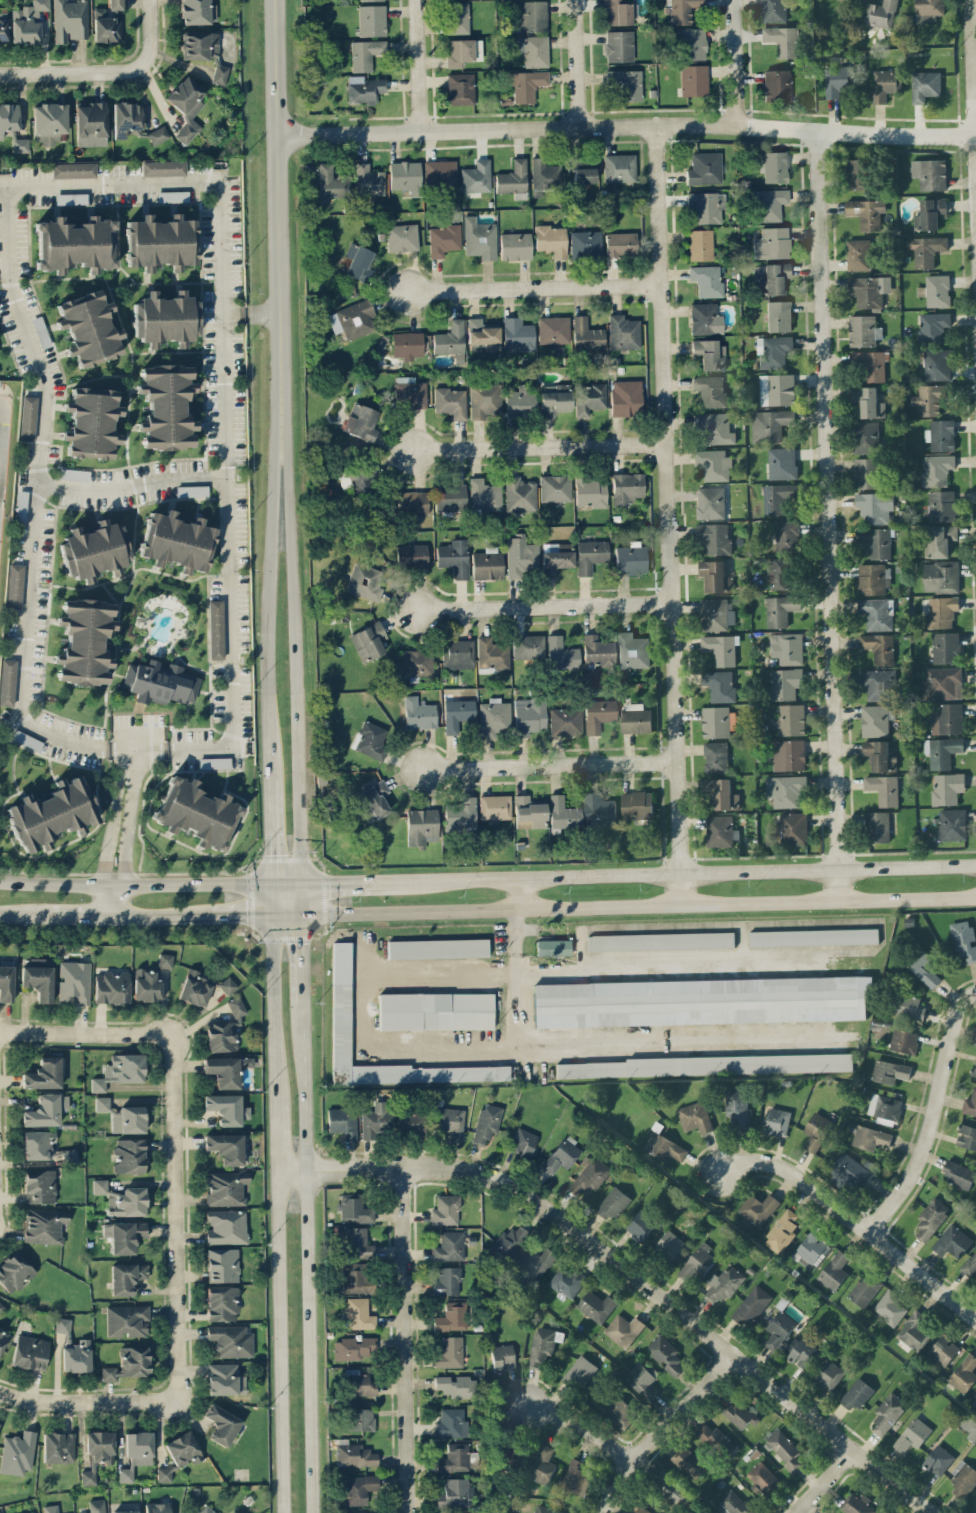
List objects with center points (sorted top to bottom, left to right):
building: (116, 4)
building: (681, 10)
building: (928, 10)
building: (197, 11)
building: (618, 11)
building: (773, 11)
building: (880, 14)
building: (533, 15)
building: (457, 17)
building: (70, 19)
building: (371, 20)
building: (27, 22)
building: (3, 26)
building: (104, 26)
road: (148, 31)
building: (784, 40)
building: (691, 43)
building: (198, 44)
building: (618, 45)
building: (534, 50)
building: (459, 52)
building: (365, 53)
road: (735, 62)
road: (577, 63)
road: (419, 65)
road: (74, 73)
building: (219, 73)
building: (693, 80)
building: (837, 80)
road: (973, 80)
building: (526, 83)
building: (625, 83)
building: (885, 84)
building: (777, 85)
building: (925, 86)
building: (364, 88)
building: (460, 88)
building: (186, 105)
building: (8, 116)
building: (126, 117)
building: (49, 121)
building: (90, 123)
road: (627, 124)
building: (158, 134)
building: (20, 144)
building: (774, 166)
building: (163, 167)
building: (618, 167)
building: (704, 168)
building: (73, 169)
building: (582, 170)
building: (439, 173)
building: (856, 173)
building: (930, 173)
building: (544, 174)
building: (406, 176)
building: (476, 176)
building: (368, 179)
building: (513, 179)
building: (331, 182)
building: (172, 195)
building: (71, 198)
building: (769, 203)
building: (706, 206)
building: (866, 212)
building: (929, 213)
road: (279, 220)
building: (402, 237)
building: (479, 238)
building: (443, 239)
building: (551, 240)
building: (160, 242)
building: (771, 242)
building: (585, 243)
building: (620, 243)
building: (74, 244)
building: (700, 244)
building: (515, 245)
building: (926, 249)
building: (858, 254)
building: (359, 261)
building: (773, 278)
building: (706, 279)
road: (535, 288)
building: (868, 290)
building: (935, 290)
building: (778, 315)
building: (165, 318)
building: (705, 318)
building: (353, 319)
building: (932, 327)
building: (88, 329)
building: (553, 329)
building: (863, 331)
building: (623, 332)
building: (517, 334)
building: (586, 334)
building: (482, 336)
building: (407, 344)
building: (773, 351)
building: (709, 354)
building: (869, 364)
building: (937, 364)
road: (224, 387)
building: (776, 389)
building: (710, 390)
building: (410, 392)
building: (626, 397)
building: (554, 398)
building: (589, 398)
building: (928, 399)
building: (484, 400)
building: (520, 400)
building: (450, 401)
building: (868, 402)
building: (165, 406)
road: (0, 412)
building: (27, 417)
building: (361, 421)
building: (90, 422)
building: (769, 424)
building: (712, 428)
building: (940, 435)
building: (865, 437)
road: (541, 445)
building: (781, 463)
building: (713, 464)
building: (936, 469)
building: (865, 473)
building: (73, 474)
building: (358, 478)
road: (133, 482)
building: (627, 487)
building: (555, 488)
building: (191, 490)
building: (590, 492)
building: (484, 494)
building: (519, 494)
road: (40, 495)
building: (449, 497)
building: (778, 498)
building: (412, 502)
building: (710, 502)
building: (21, 506)
building: (874, 506)
building: (941, 506)
road: (670, 512)
road: (827, 514)
building: (786, 536)
building: (714, 538)
building: (938, 540)
building: (176, 541)
building: (875, 541)
building: (93, 550)
road: (291, 555)
building: (411, 555)
building: (590, 555)
building: (454, 556)
building: (521, 556)
building: (555, 557)
building: (631, 559)
building: (487, 563)
building: (780, 572)
building: (714, 576)
building: (941, 576)
building: (872, 579)
building: (365, 581)
building: (14, 585)
road: (544, 605)
building: (780, 610)
building: (941, 612)
building: (877, 613)
building: (715, 614)
building: (215, 629)
building: (367, 640)
building: (83, 641)
building: (527, 646)
building: (878, 647)
building: (945, 647)
building: (721, 648)
building: (786, 648)
building: (632, 650)
building: (597, 651)
building: (561, 653)
building: (457, 654)
building: (492, 654)
road: (268, 662)
building: (417, 662)
building: (7, 681)
building: (159, 682)
building: (941, 683)
building: (785, 684)
building: (878, 684)
building: (720, 685)
building: (419, 713)
building: (457, 714)
building: (598, 714)
building: (529, 715)
building: (494, 717)
building: (635, 718)
building: (946, 719)
building: (565, 720)
building: (789, 720)
building: (874, 720)
building: (716, 722)
building: (370, 738)
road: (136, 748)
building: (941, 751)
building: (788, 755)
building: (879, 756)
building: (715, 757)
building: (214, 762)
road: (553, 763)
road: (299, 775)
building: (946, 788)
building: (883, 789)
building: (785, 791)
building: (722, 793)
building: (374, 798)
building: (637, 805)
building: (494, 806)
building: (599, 810)
building: (196, 812)
building: (528, 812)
building: (563, 812)
building: (51, 813)
building: (460, 813)
building: (952, 824)
building: (421, 826)
building: (877, 827)
building: (792, 829)
building: (719, 831)
road: (119, 832)
road: (673, 871)
road: (336, 881)
road: (287, 882)
road: (135, 883)
road: (524, 891)
road: (302, 898)
road: (272, 899)
road: (638, 903)
road: (25, 913)
road: (287, 914)
road: (81, 915)
road: (162, 915)
road: (242, 915)
building: (813, 937)
building: (963, 939)
building: (661, 941)
building: (553, 946)
building: (437, 948)
road: (303, 958)
building: (924, 969)
building: (39, 978)
road: (471, 978)
building: (150, 980)
building: (74, 981)
building: (6, 982)
building: (227, 985)
building: (111, 987)
building: (194, 987)
building: (701, 1001)
building: (341, 1002)
building: (910, 1007)
building: (435, 1010)
building: (225, 1029)
road: (86, 1031)
building: (973, 1035)
road: (621, 1040)
building: (903, 1041)
building: (704, 1065)
building: (226, 1069)
building: (120, 1070)
building: (890, 1071)
building: (43, 1073)
building: (101, 1103)
building: (970, 1103)
building: (226, 1108)
building: (737, 1108)
building: (884, 1108)
building: (45, 1109)
building: (695, 1117)
road: (936, 1117)
building: (128, 1119)
building: (376, 1119)
building: (342, 1121)
building: (411, 1121)
building: (449, 1121)
building: (777, 1121)
building: (486, 1122)
building: (816, 1131)
building: (869, 1137)
building: (966, 1137)
building: (522, 1141)
building: (38, 1144)
building: (225, 1147)
building: (664, 1147)
building: (562, 1154)
building: (70, 1155)
building: (129, 1155)
building: (849, 1170)
building: (959, 1174)
building: (589, 1178)
building: (39, 1185)
building: (225, 1187)
building: (122, 1198)
building: (612, 1203)
building: (353, 1208)
building: (758, 1208)
building: (445, 1209)
road: (277, 1214)
road: (175, 1215)
road: (855, 1217)
building: (931, 1217)
building: (44, 1225)
building: (225, 1226)
building: (640, 1226)
building: (781, 1231)
building: (123, 1235)
building: (357, 1241)
building: (952, 1241)
building: (505, 1244)
building: (669, 1244)
building: (449, 1246)
building: (812, 1248)
road: (308, 1257)
building: (696, 1263)
building: (221, 1264)
building: (533, 1264)
building: (969, 1265)
building: (834, 1270)
building: (14, 1271)
road: (628, 1273)
building: (125, 1277)
building: (352, 1277)
building: (447, 1280)
building: (567, 1281)
building: (723, 1284)
building: (864, 1291)
building: (221, 1302)
building: (1, 1305)
building: (596, 1306)
building: (751, 1306)
building: (890, 1307)
building: (358, 1313)
building: (451, 1316)
building: (126, 1320)
building: (62, 1324)
building: (622, 1329)
building: (778, 1329)
building: (914, 1331)
building: (3, 1337)
building: (230, 1340)
road: (402, 1340)
building: (543, 1345)
building: (353, 1347)
building: (801, 1350)
building: (944, 1350)
building: (29, 1352)
building: (450, 1352)
building: (666, 1355)
building: (76, 1356)
building: (502, 1357)
building: (128, 1363)
building: (580, 1371)
building: (964, 1373)
building: (829, 1375)
building: (222, 1378)
building: (640, 1378)
building: (359, 1382)
building: (456, 1385)
building: (856, 1394)
building: (975, 1394)
road: (88, 1400)
building: (620, 1411)
building: (887, 1412)
building: (736, 1414)
building: (360, 1418)
building: (451, 1422)
road: (584, 1422)
building: (221, 1424)
building: (968, 1426)
road: (661, 1430)
building: (912, 1435)
building: (716, 1441)
building: (58, 1447)
building: (182, 1449)
building: (785, 1450)
building: (17, 1452)
building: (136, 1452)
building: (97, 1453)
building: (355, 1454)
building: (454, 1458)
building: (938, 1459)
building: (689, 1462)
building: (542, 1464)
building: (164, 1474)
building: (574, 1475)
building: (763, 1478)
building: (963, 1480)
road: (819, 1481)
building: (670, 1486)
building: (359, 1488)
building: (455, 1493)
building: (975, 1494)
building: (732, 1503)
building: (857, 1504)
building: (95, 1506)
building: (157, 1507)
building: (50, 1508)
building: (206, 1509)
building: (639, 1509)
building: (975, 1509)
building: (546, 1510)
building: (124, 1511)
building: (0, 1512)
building: (28, 1512)
building: (458, 1512)

